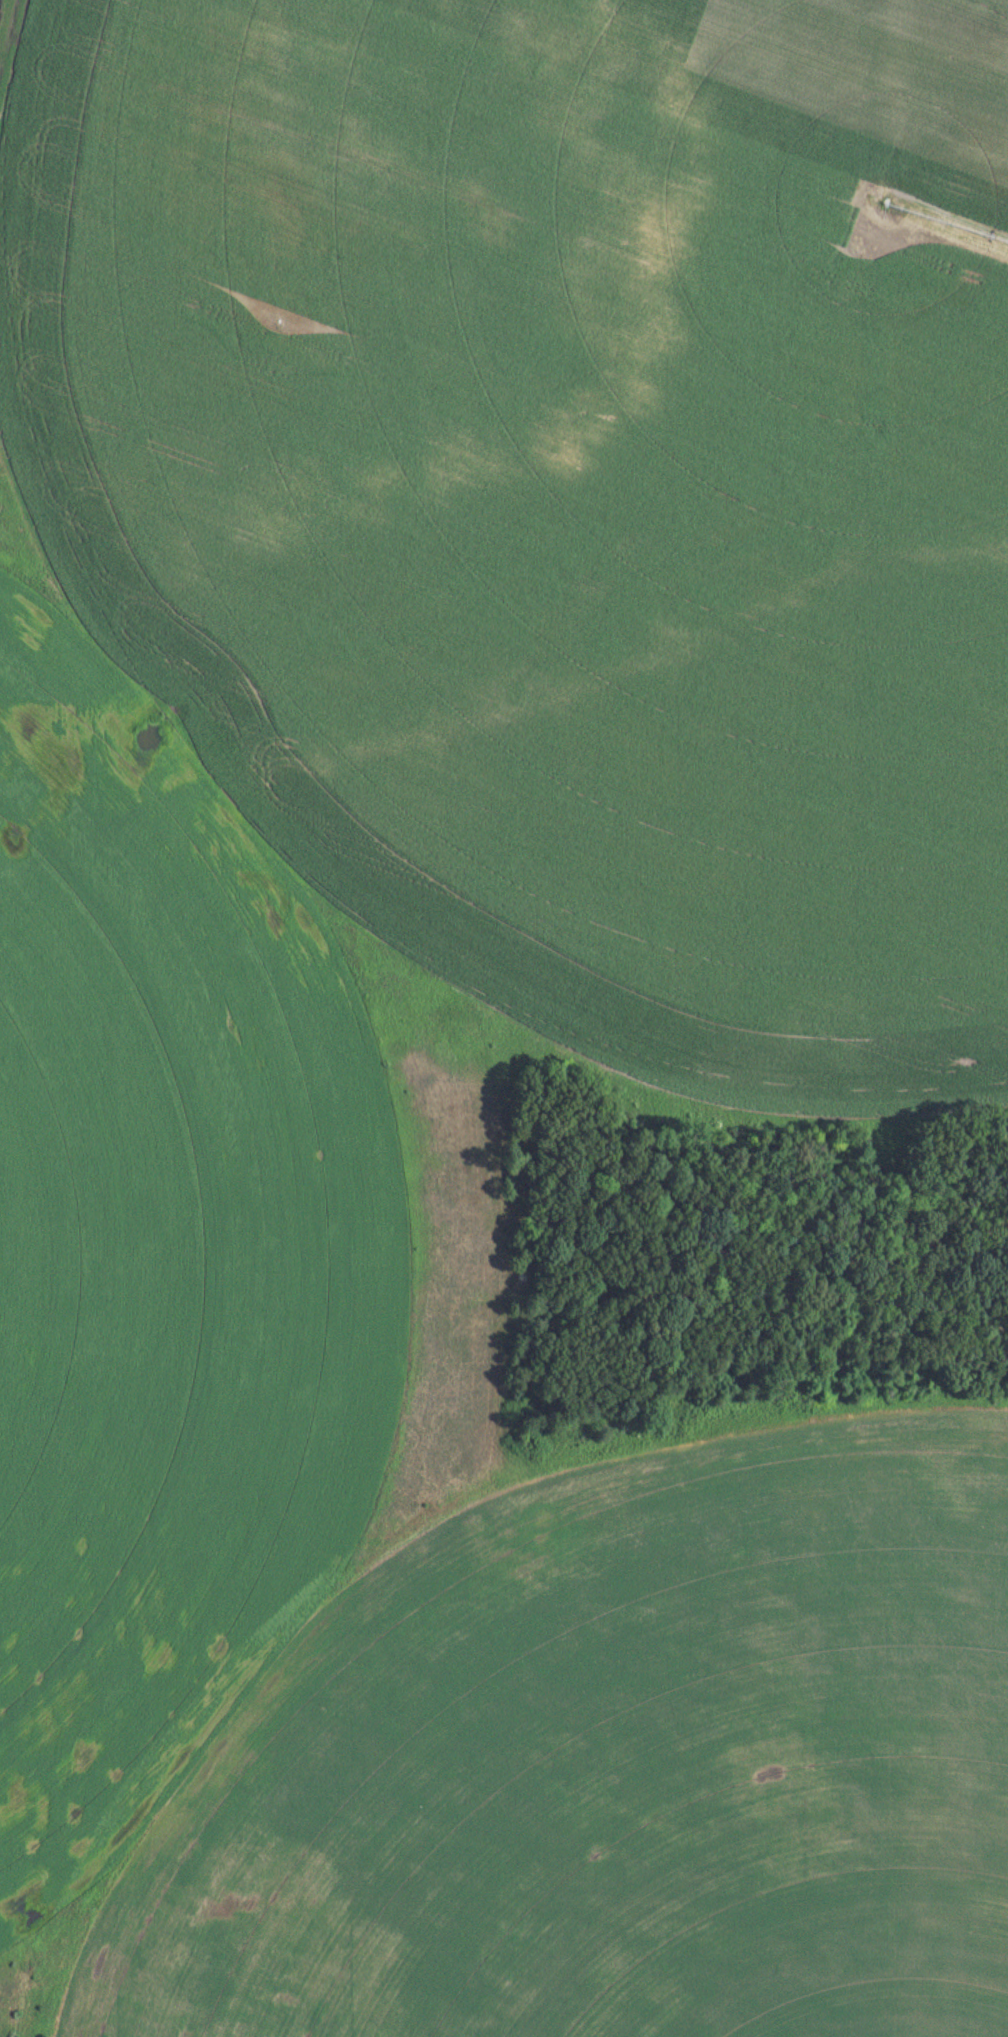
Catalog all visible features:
wastewater plant: (504, 1018)
crop: (612, 1768)

